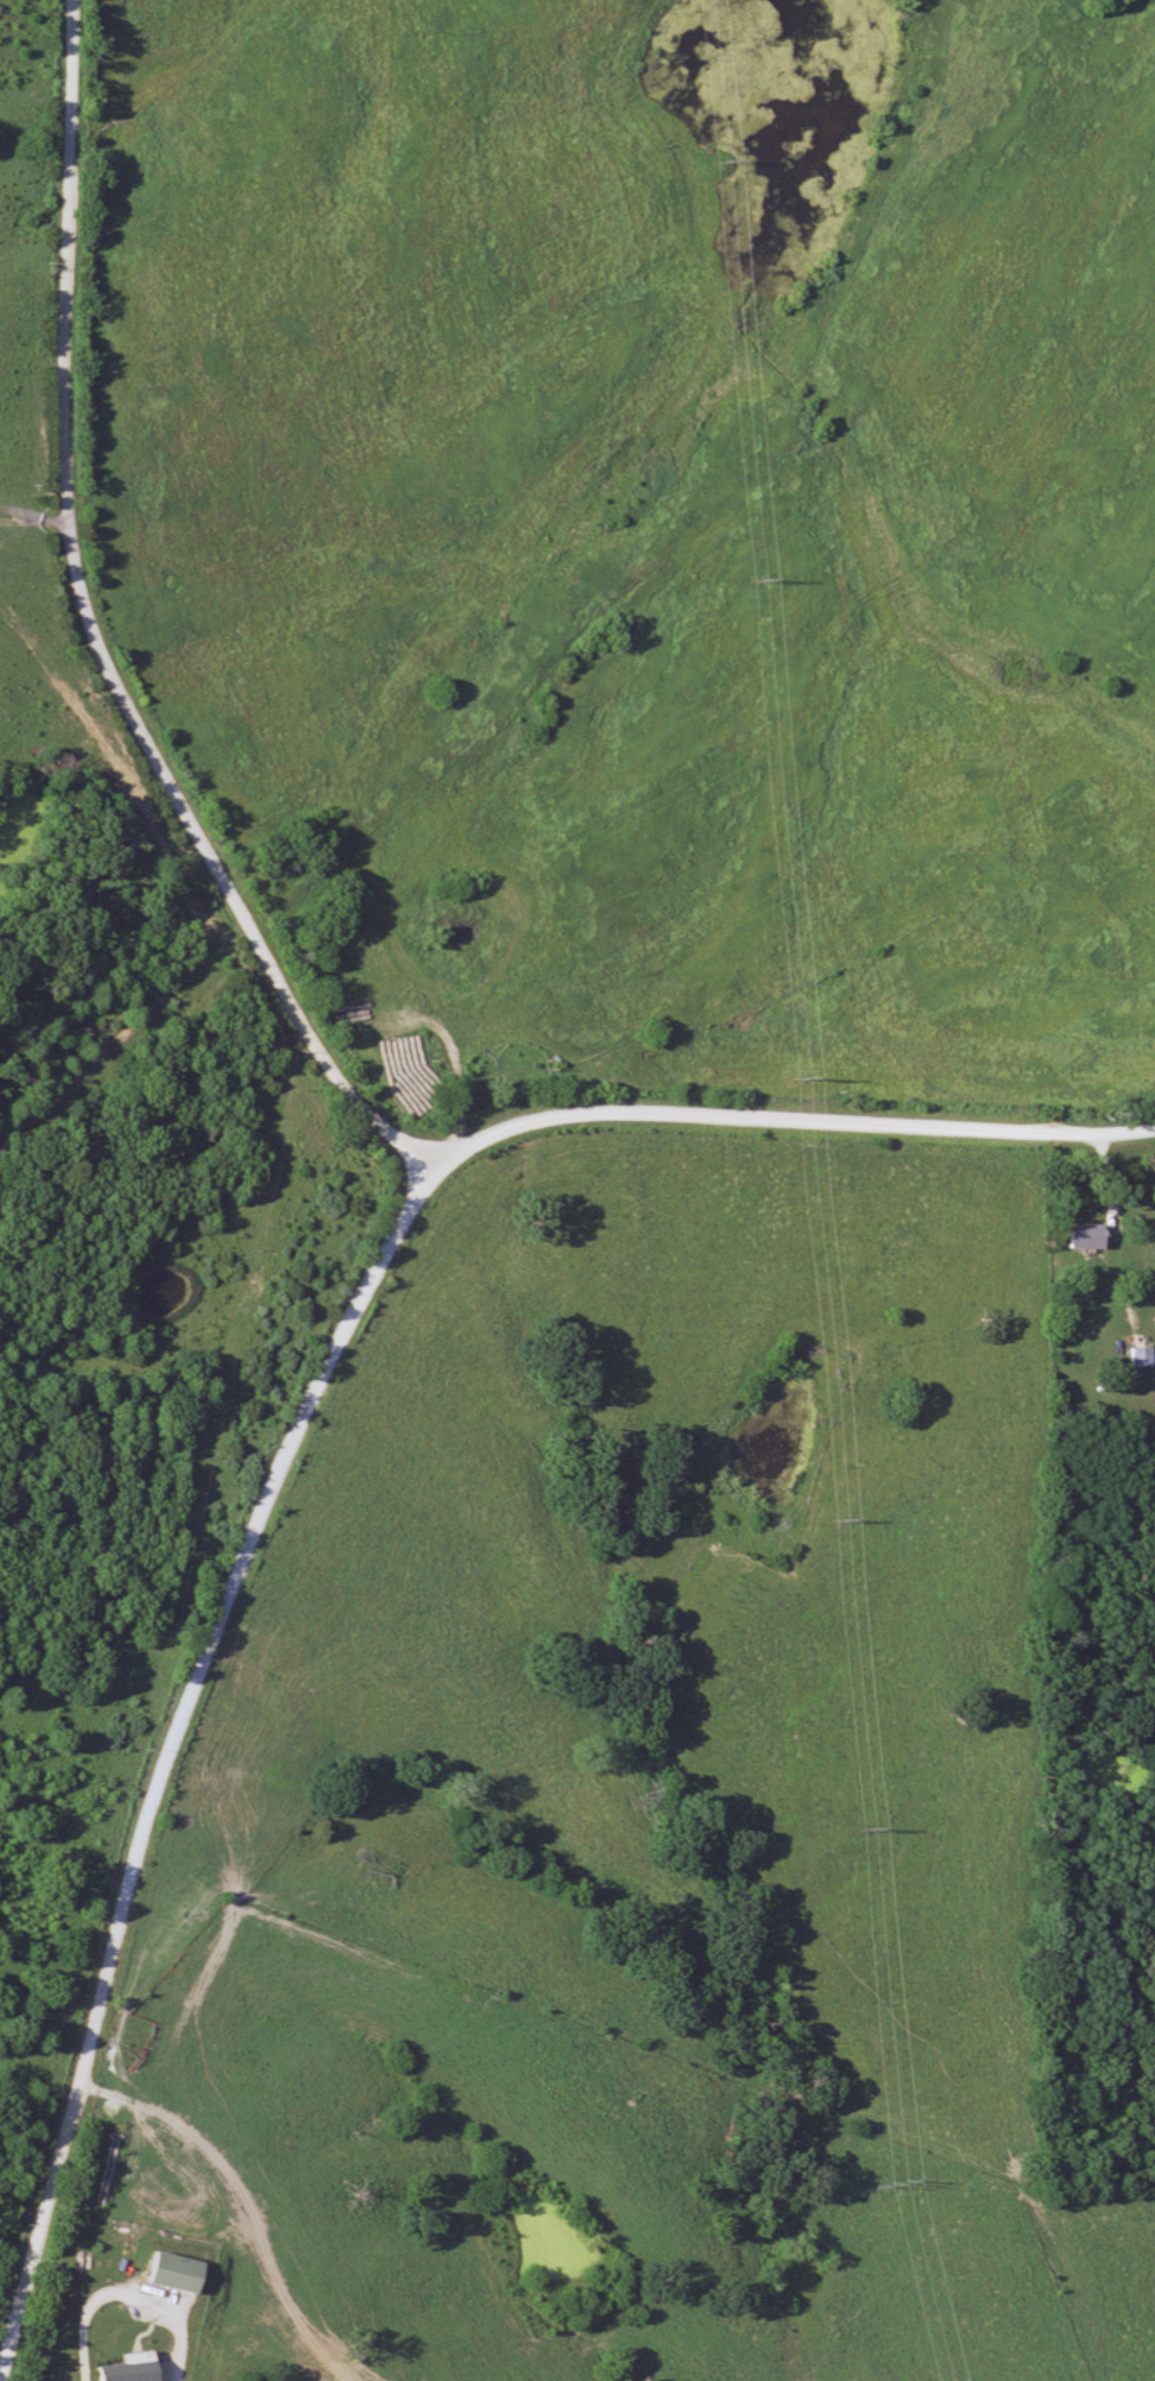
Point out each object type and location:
power tower: (730, 162)
power tower: (765, 580)
road: (84, 634)
power tower: (814, 1071)
building: (1087, 1235)
building: (1142, 1356)
road: (309, 1401)
power tower: (848, 1513)
power tower: (877, 1825)
power tower: (907, 2180)
building: (178, 2273)
road: (121, 2288)
building: (130, 2371)

